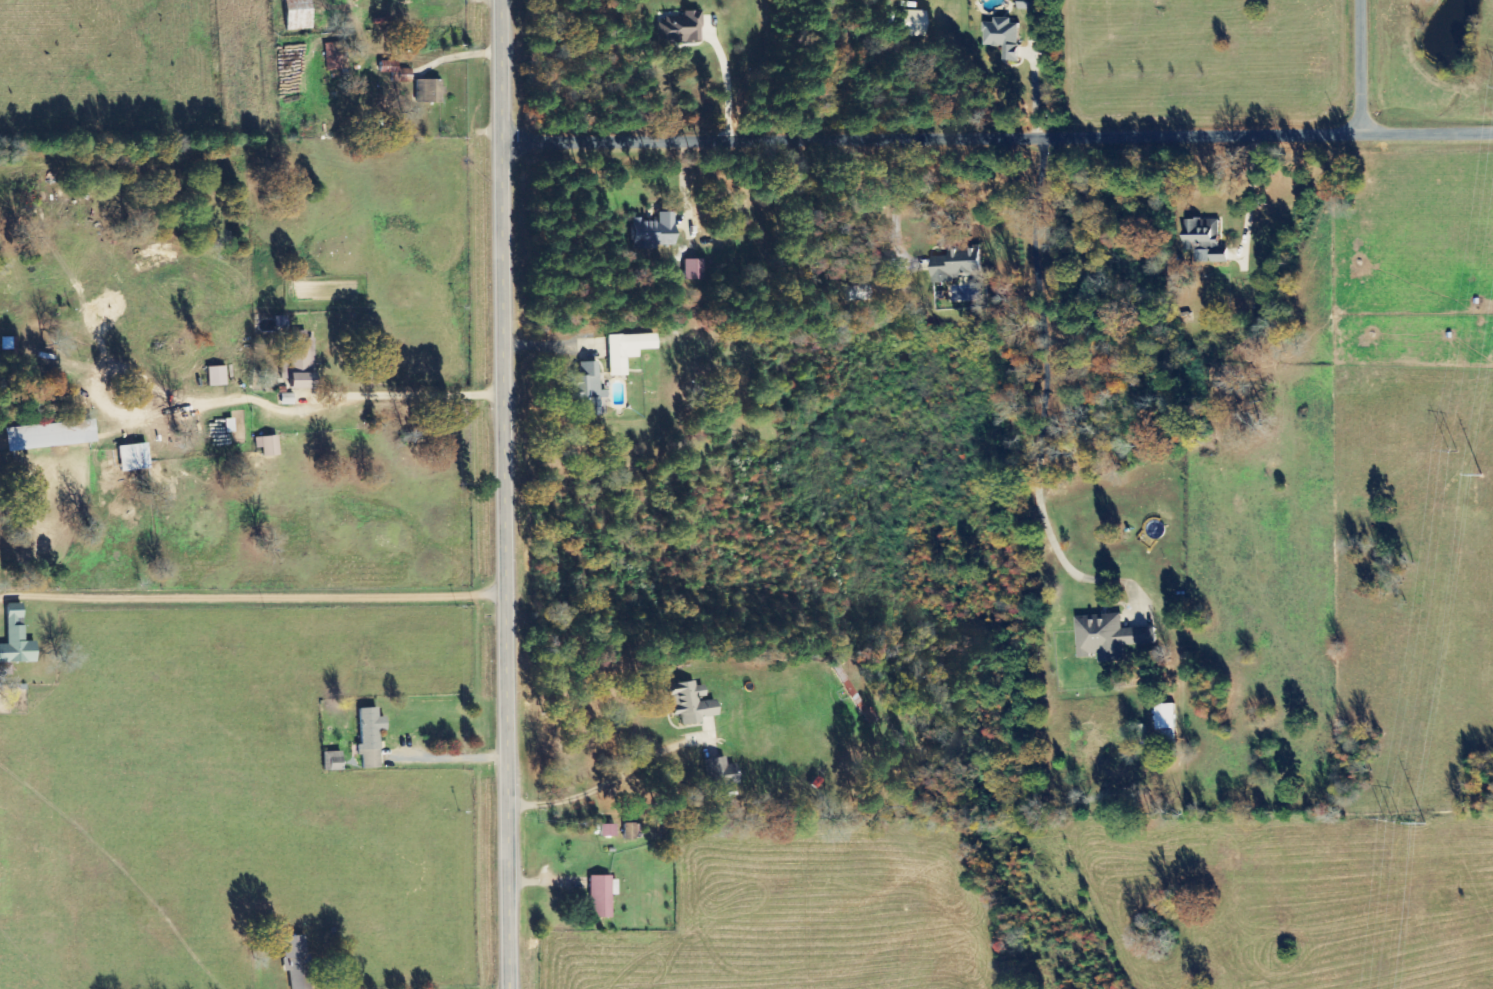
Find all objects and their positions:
building: (1026, 6)
building: (293, 14)
building: (909, 23)
building: (677, 28)
building: (1003, 37)
building: (385, 68)
road: (1369, 69)
building: (426, 91)
road: (1431, 137)
road: (932, 142)
building: (649, 232)
building: (1204, 241)
building: (955, 266)
building: (690, 270)
building: (276, 325)
building: (622, 351)
building: (298, 362)
building: (213, 376)
building: (585, 389)
building: (284, 399)
building: (225, 426)
building: (266, 446)
building: (129, 457)
road: (499, 494)
building: (13, 638)
building: (1108, 638)
building: (688, 703)
building: (1165, 722)
building: (367, 738)
building: (332, 761)
building: (718, 773)
building: (604, 831)
building: (630, 831)
building: (599, 895)
building: (292, 947)

